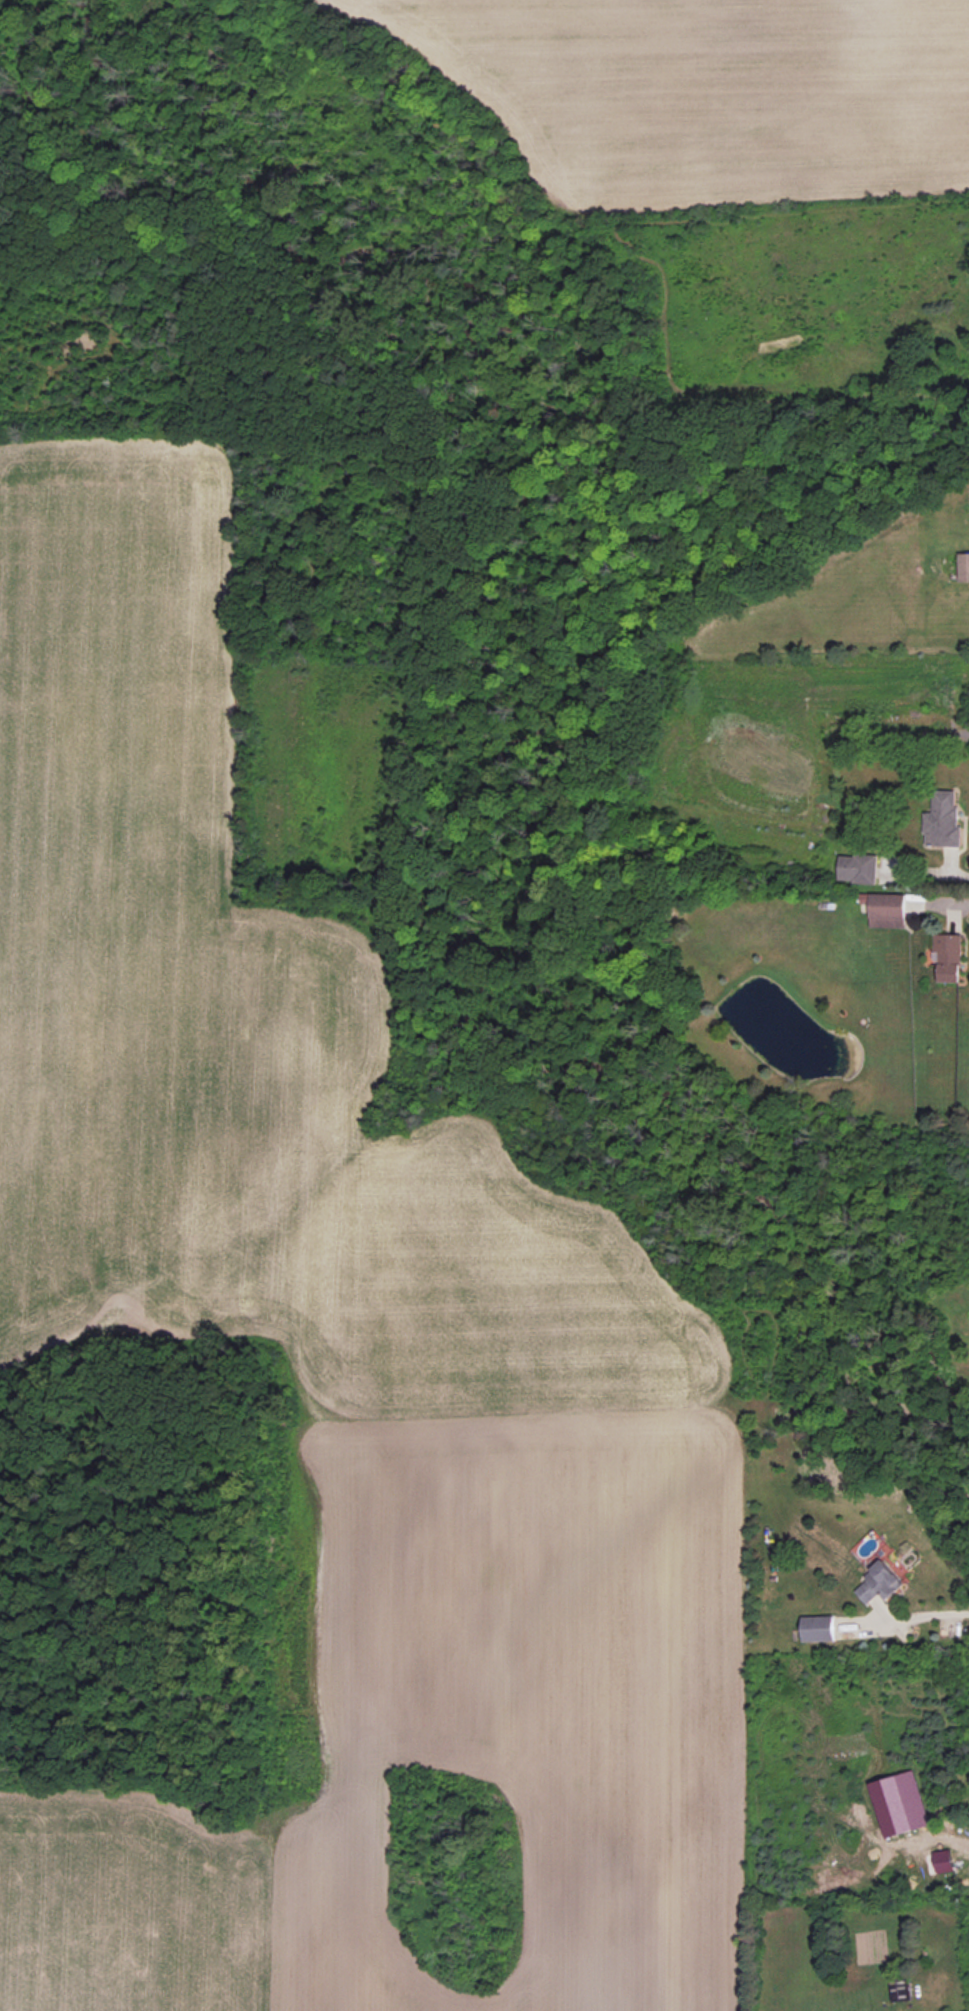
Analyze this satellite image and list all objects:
building: (964, 567)
building: (944, 819)
building: (858, 868)
road: (958, 872)
road: (955, 902)
building: (888, 910)
building: (950, 956)
building: (880, 1583)
road: (927, 1614)
building: (819, 1628)
building: (900, 1803)
building: (944, 1861)
building: (899, 1989)

